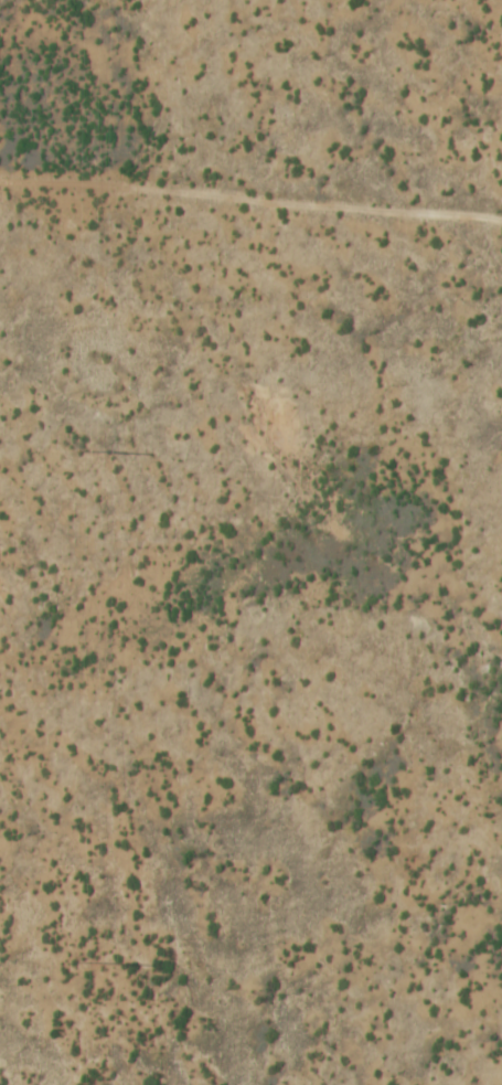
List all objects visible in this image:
power tower: (85, 450)
power tower: (87, 962)

